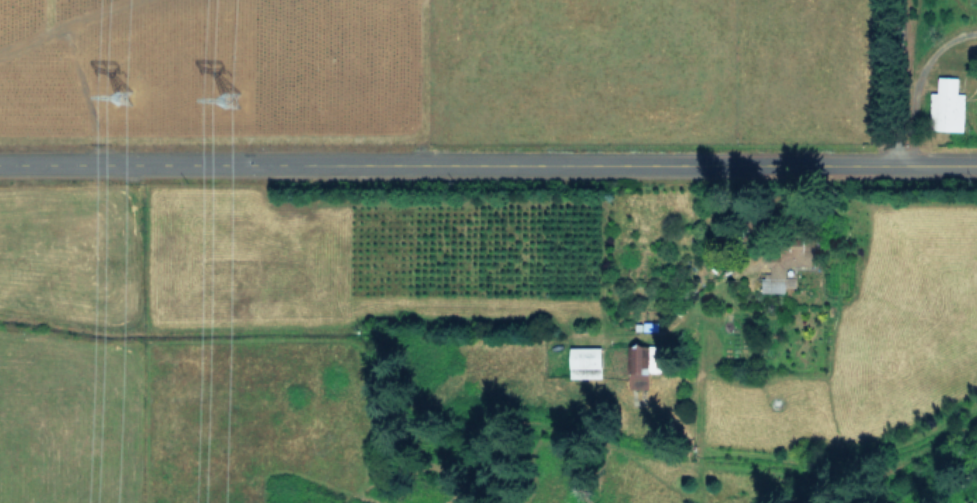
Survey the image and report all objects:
road: (917, 76)
road: (899, 78)
building: (948, 105)
power tower: (132, 108)
power tower: (242, 112)
road: (488, 157)
building: (777, 270)
building: (586, 361)
building: (637, 367)

